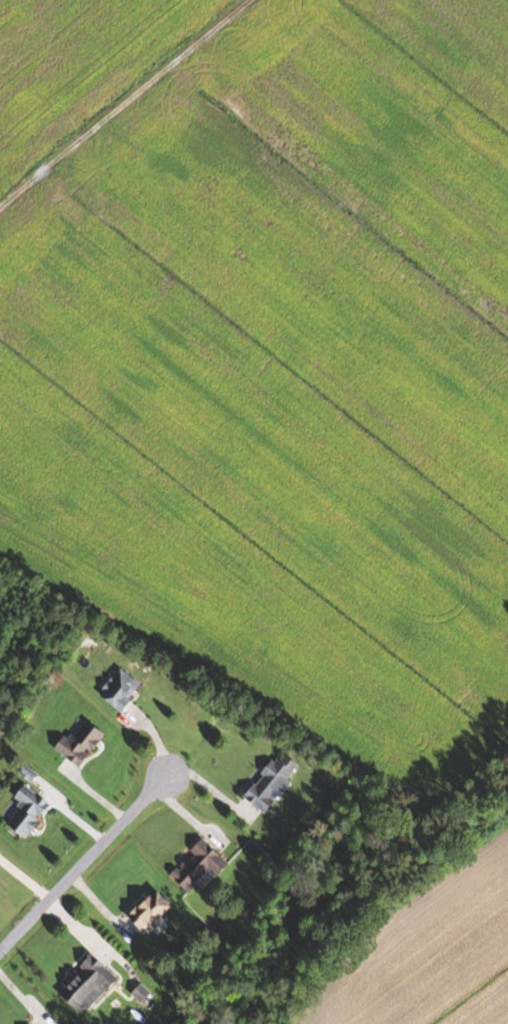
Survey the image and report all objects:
road: (122, 101)
building: (123, 688)
building: (83, 742)
building: (274, 781)
building: (30, 810)
road: (83, 860)
building: (201, 864)
building: (154, 909)
building: (90, 983)
building: (144, 992)

